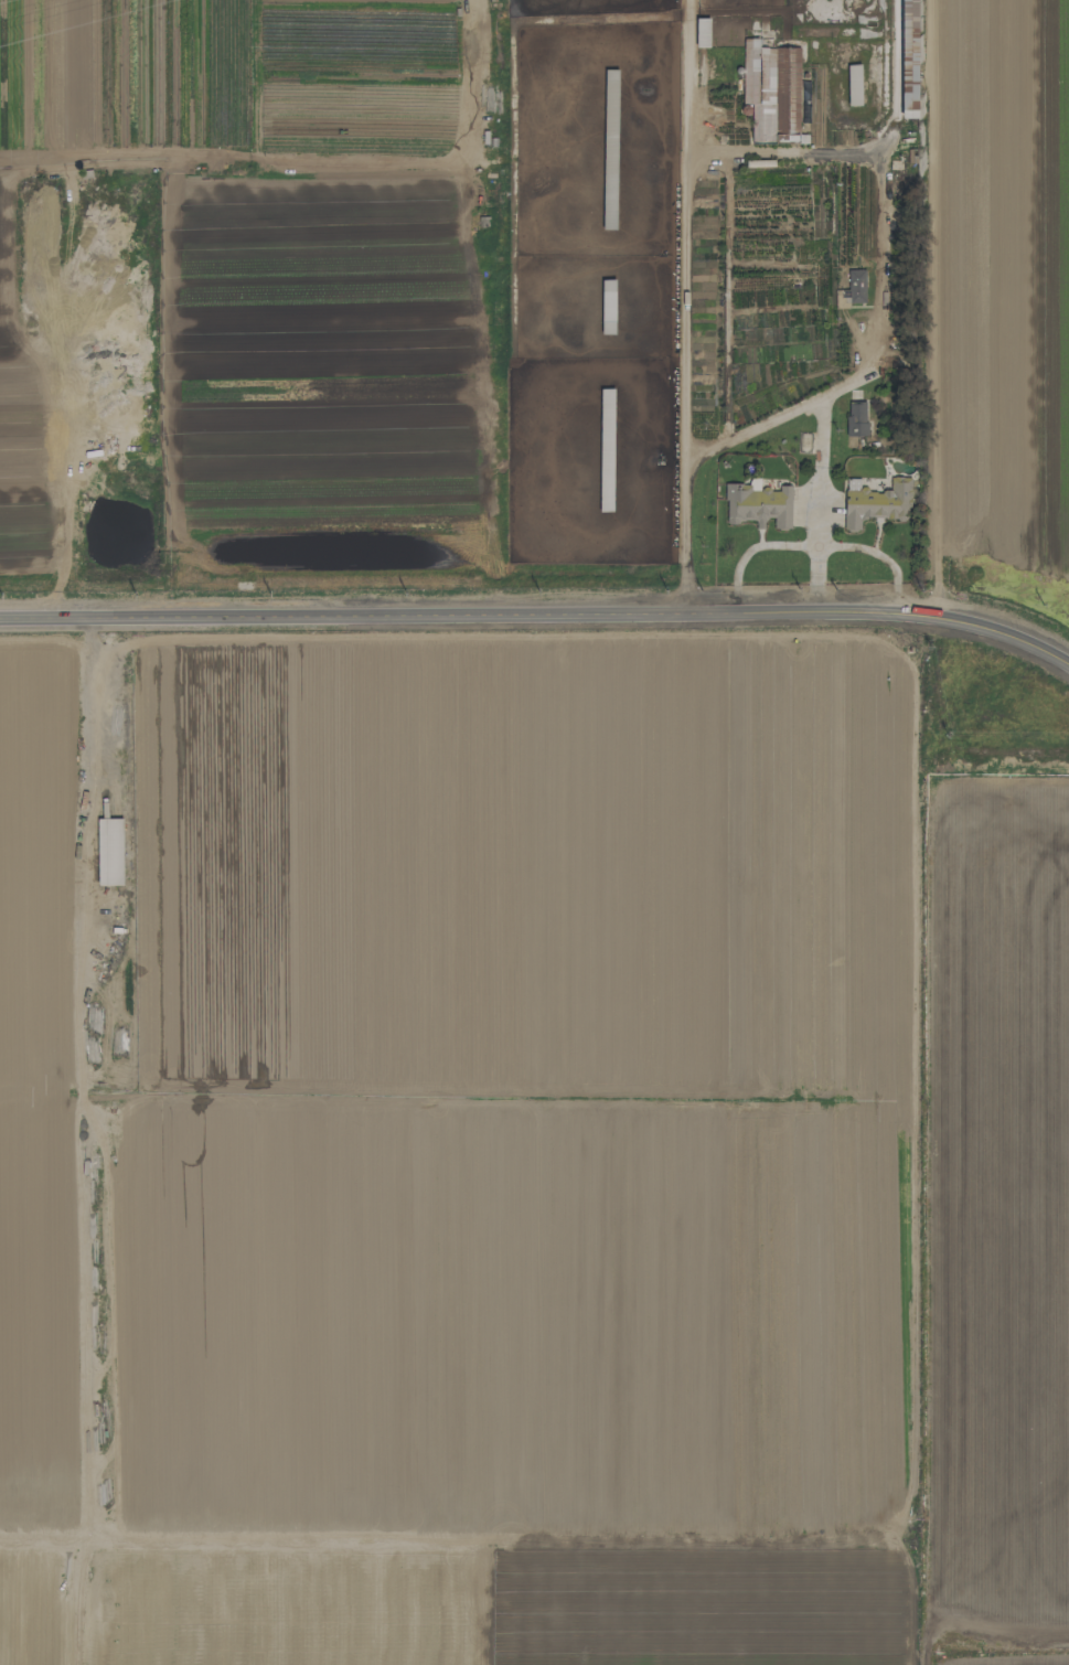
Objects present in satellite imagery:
building: (701, 32)
building: (908, 58)
building: (771, 85)
building: (853, 85)
building: (609, 149)
building: (855, 286)
building: (607, 306)
road: (928, 308)
road: (683, 309)
building: (856, 417)
building: (605, 457)
building: (875, 502)
building: (758, 505)
road: (538, 618)
building: (108, 852)
crop: (995, 1160)
crop: (459, 1602)

